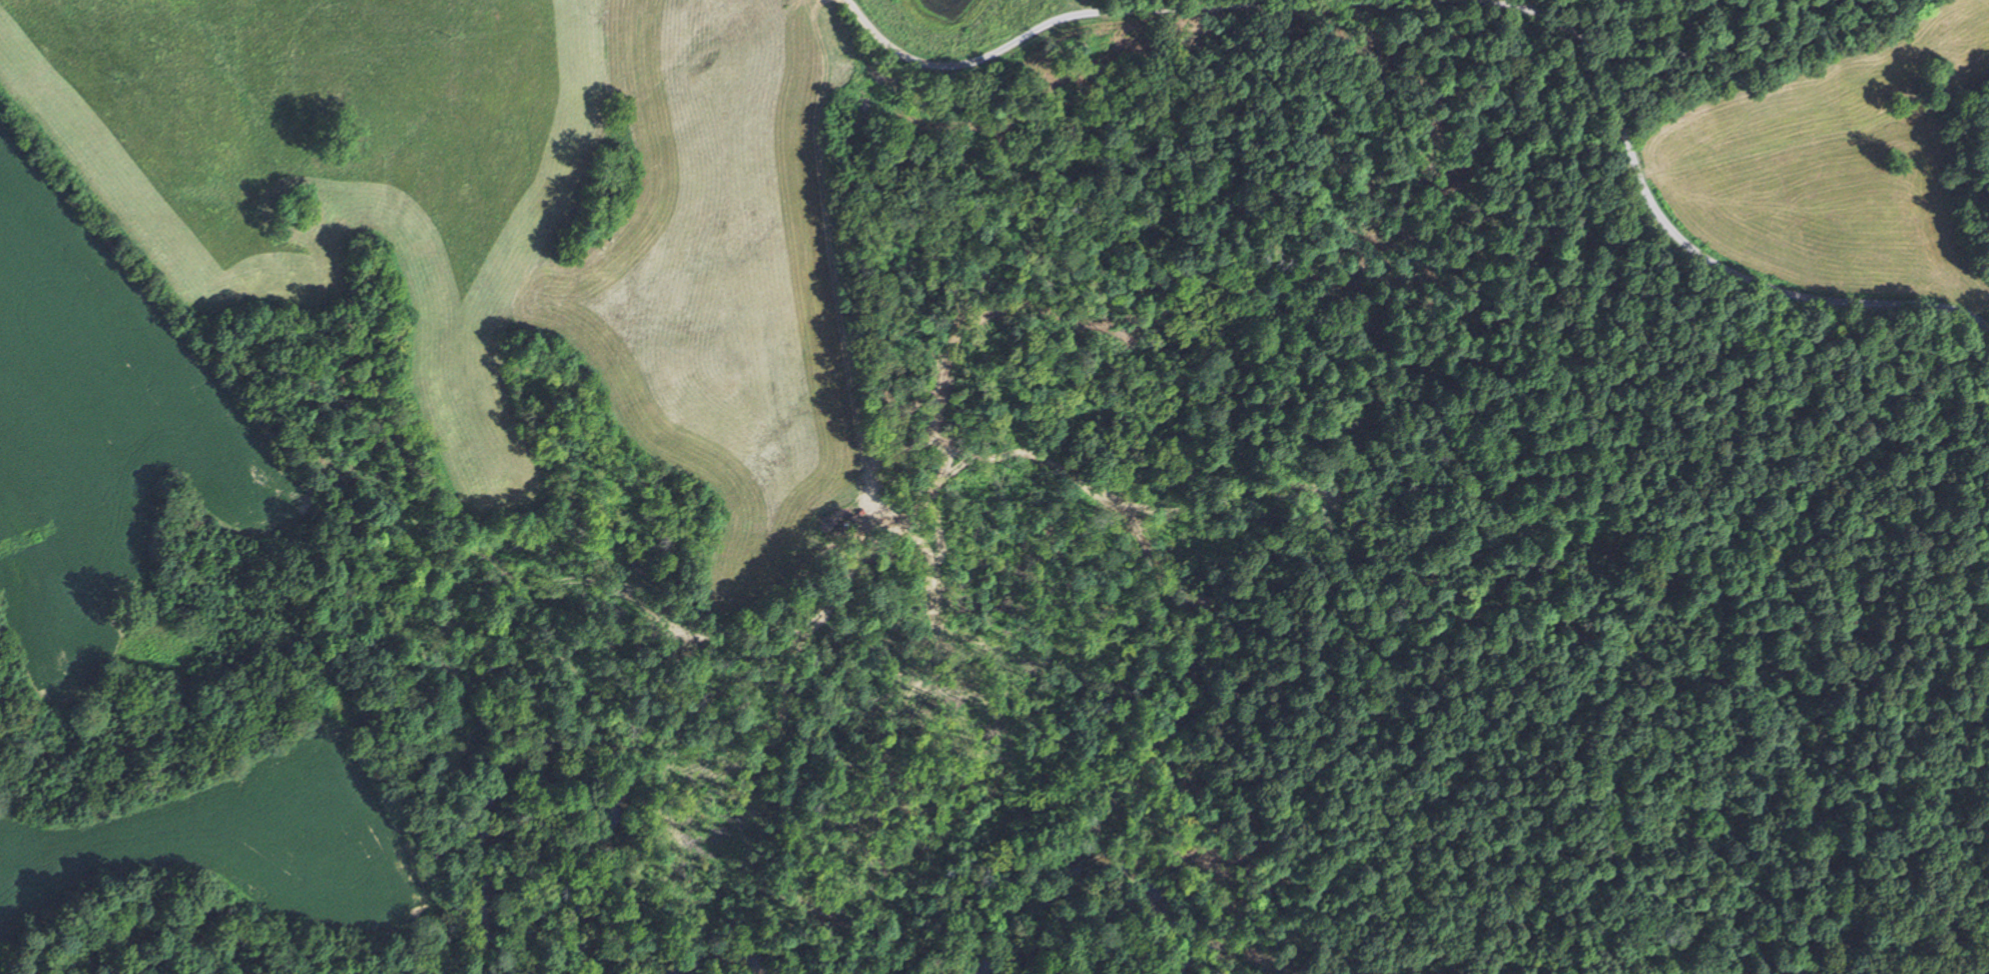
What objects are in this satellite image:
road: (1480, 0)

